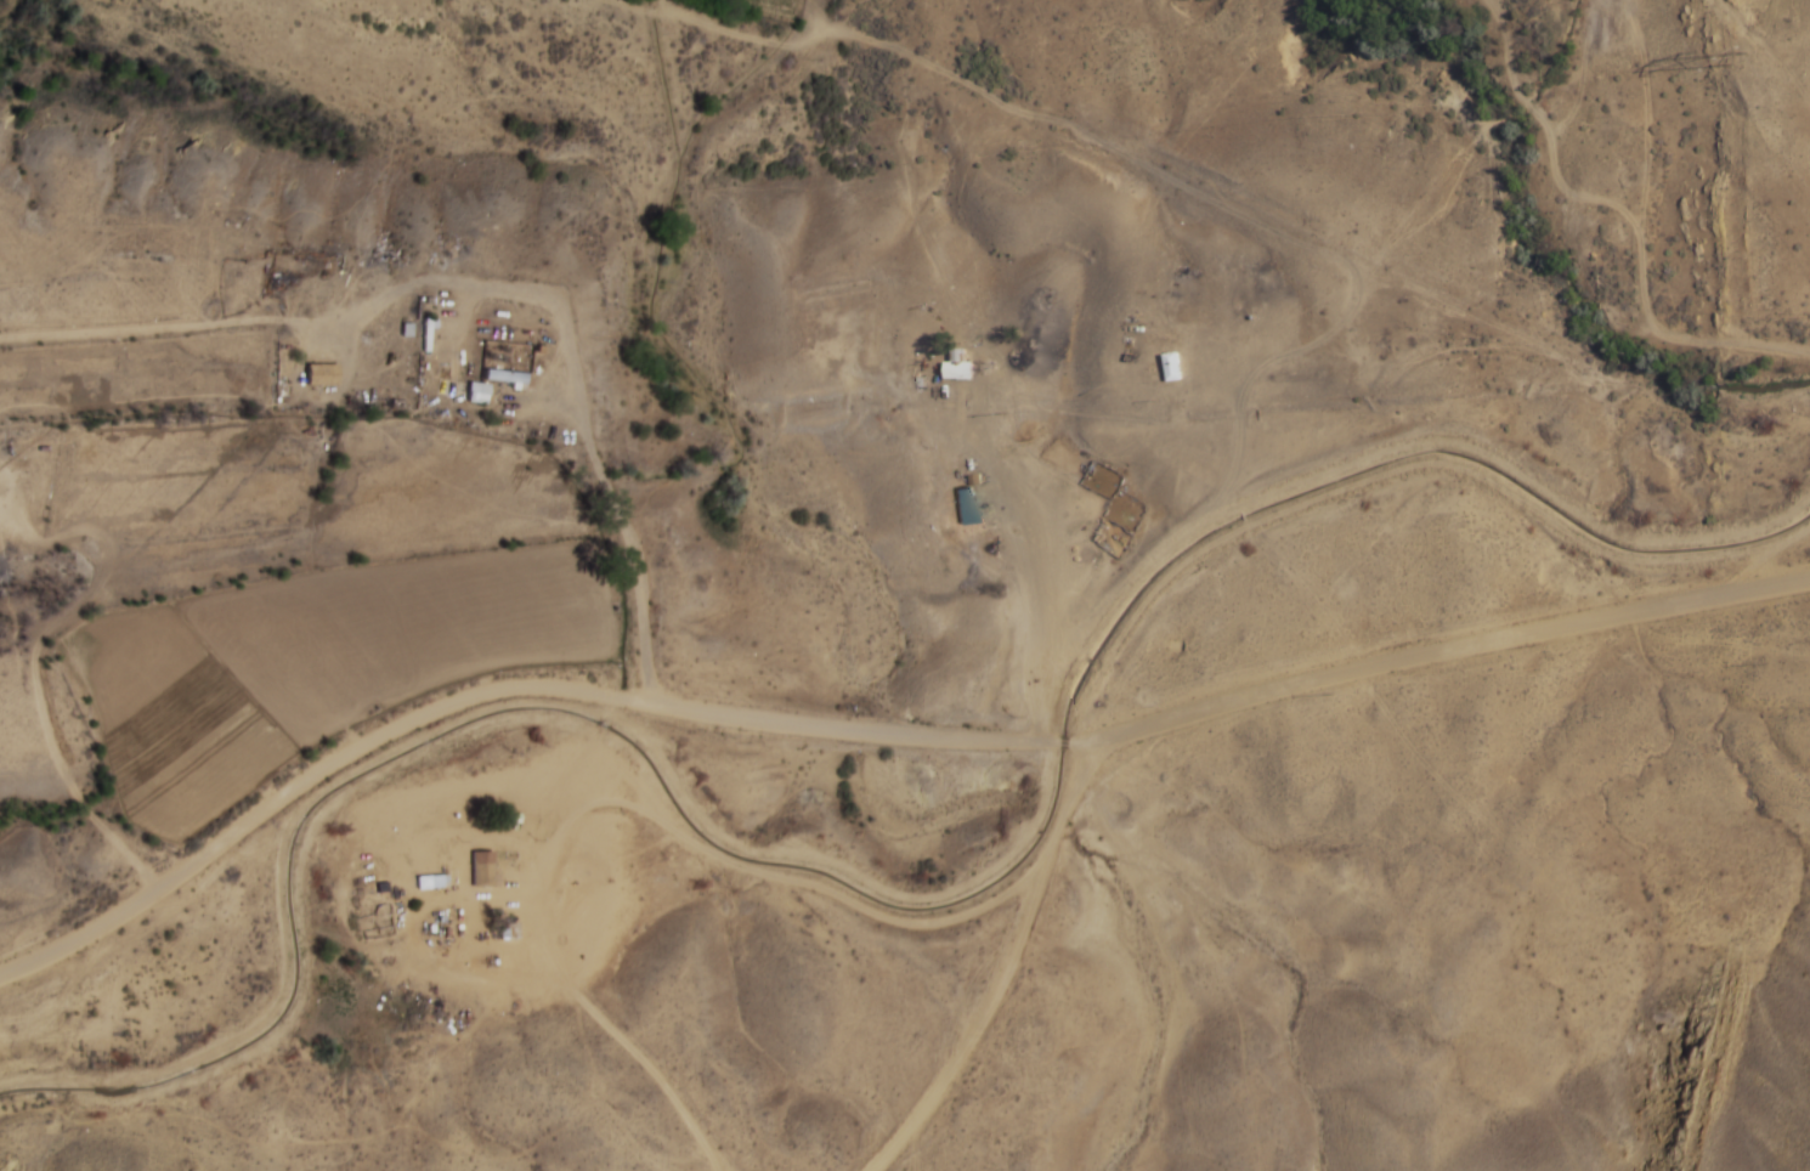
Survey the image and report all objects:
power tower: (1737, 55)
building: (961, 366)
building: (323, 372)
building: (505, 374)
road: (566, 384)
building: (968, 504)
road: (1439, 647)
road: (487, 689)
road: (1063, 741)
building: (485, 867)
road: (1013, 940)

